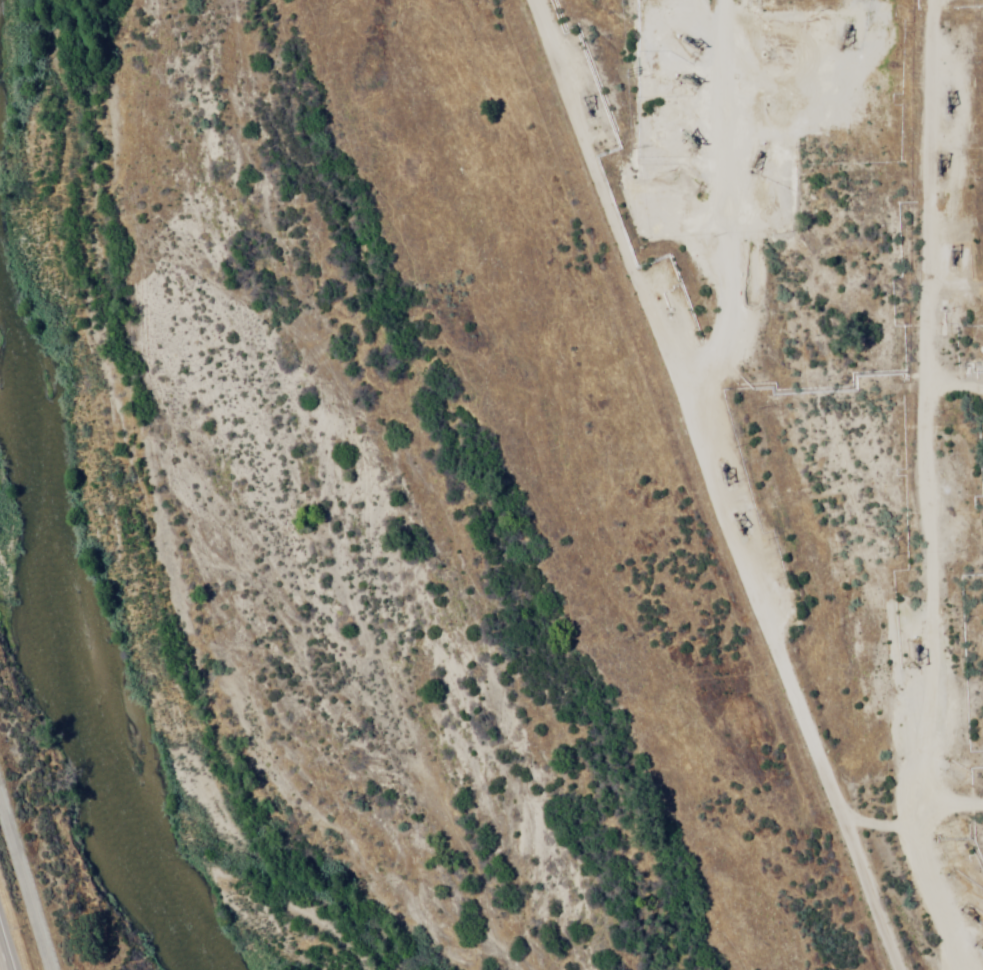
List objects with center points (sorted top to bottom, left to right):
road: (937, 24)
road: (713, 193)
road: (904, 410)
road: (753, 484)
river: (33, 503)
road: (25, 884)
road: (3, 959)

